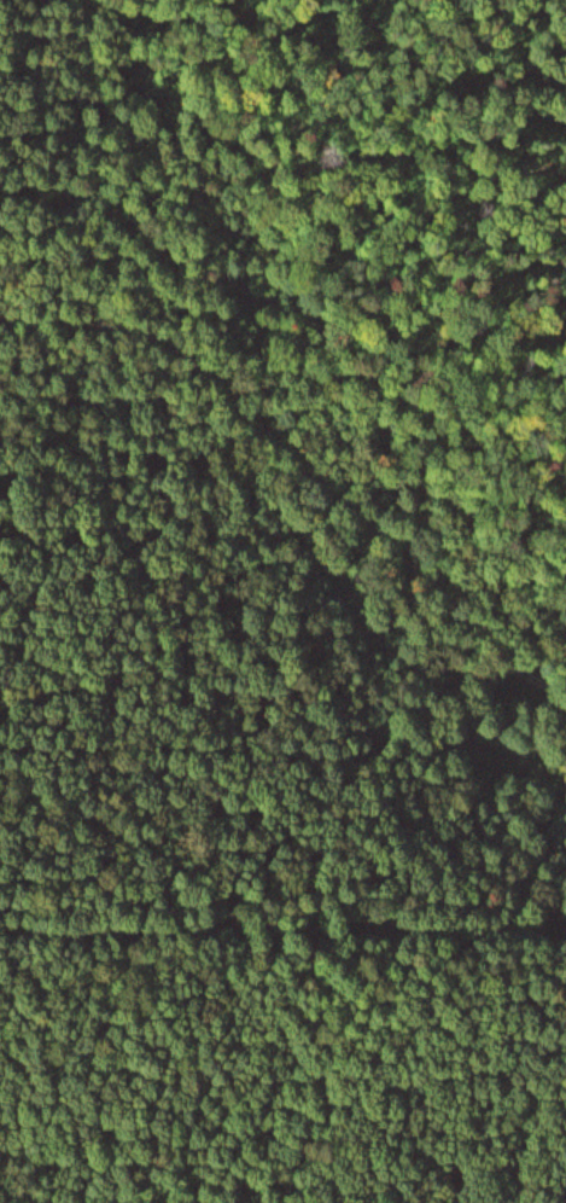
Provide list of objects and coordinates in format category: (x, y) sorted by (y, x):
road: (299, 475)

